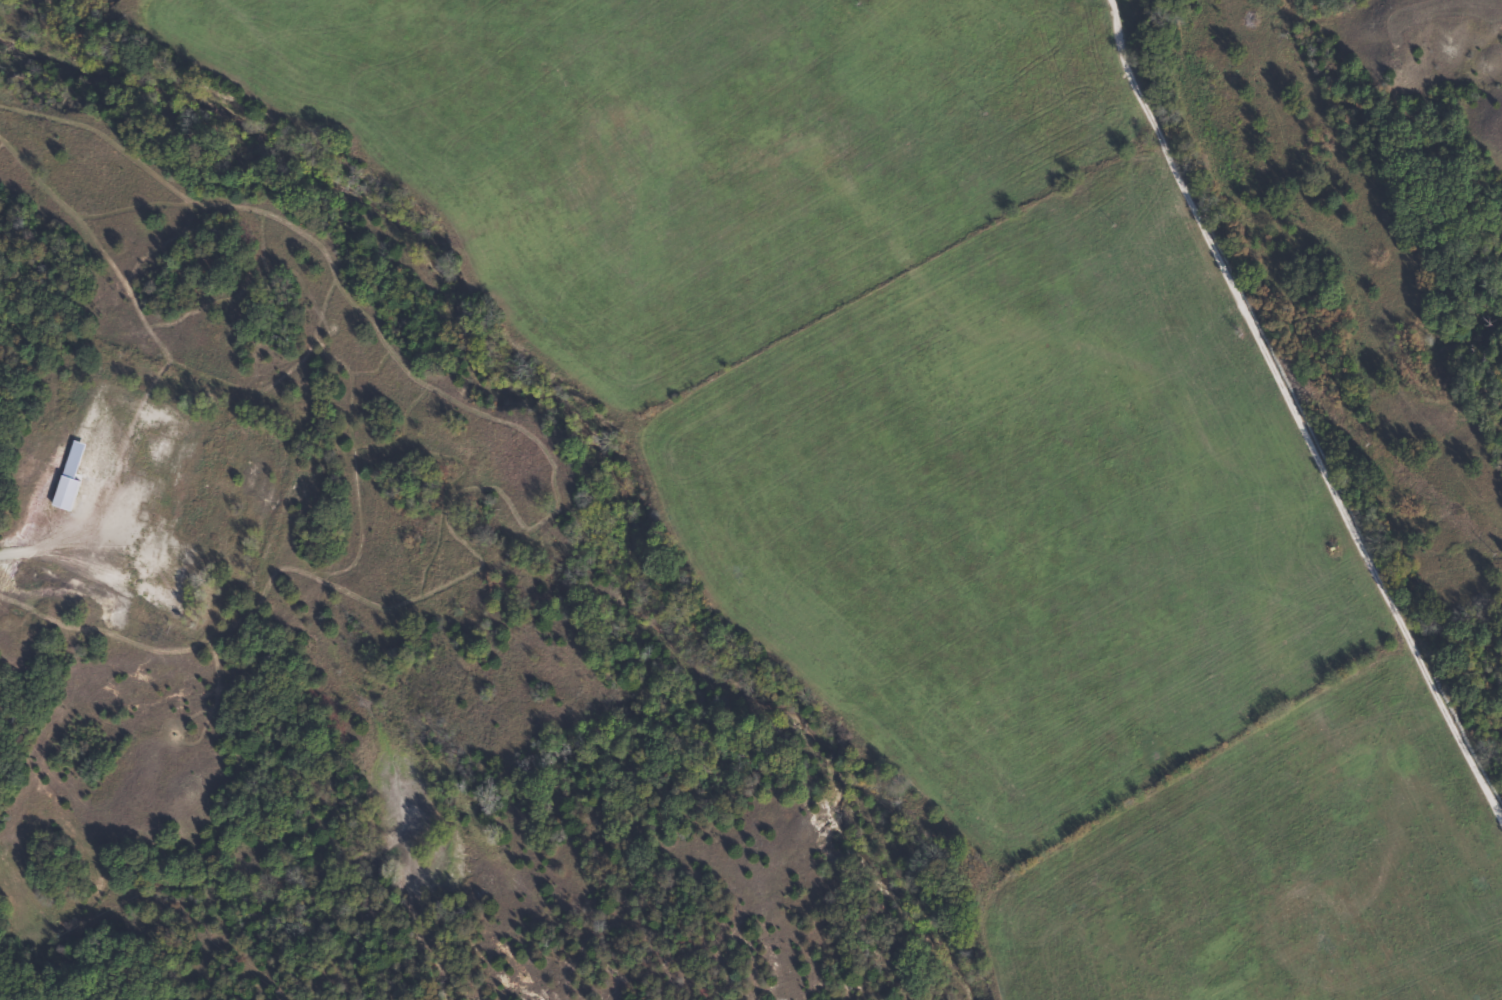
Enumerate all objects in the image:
road: (1292, 411)
building: (0, 467)

